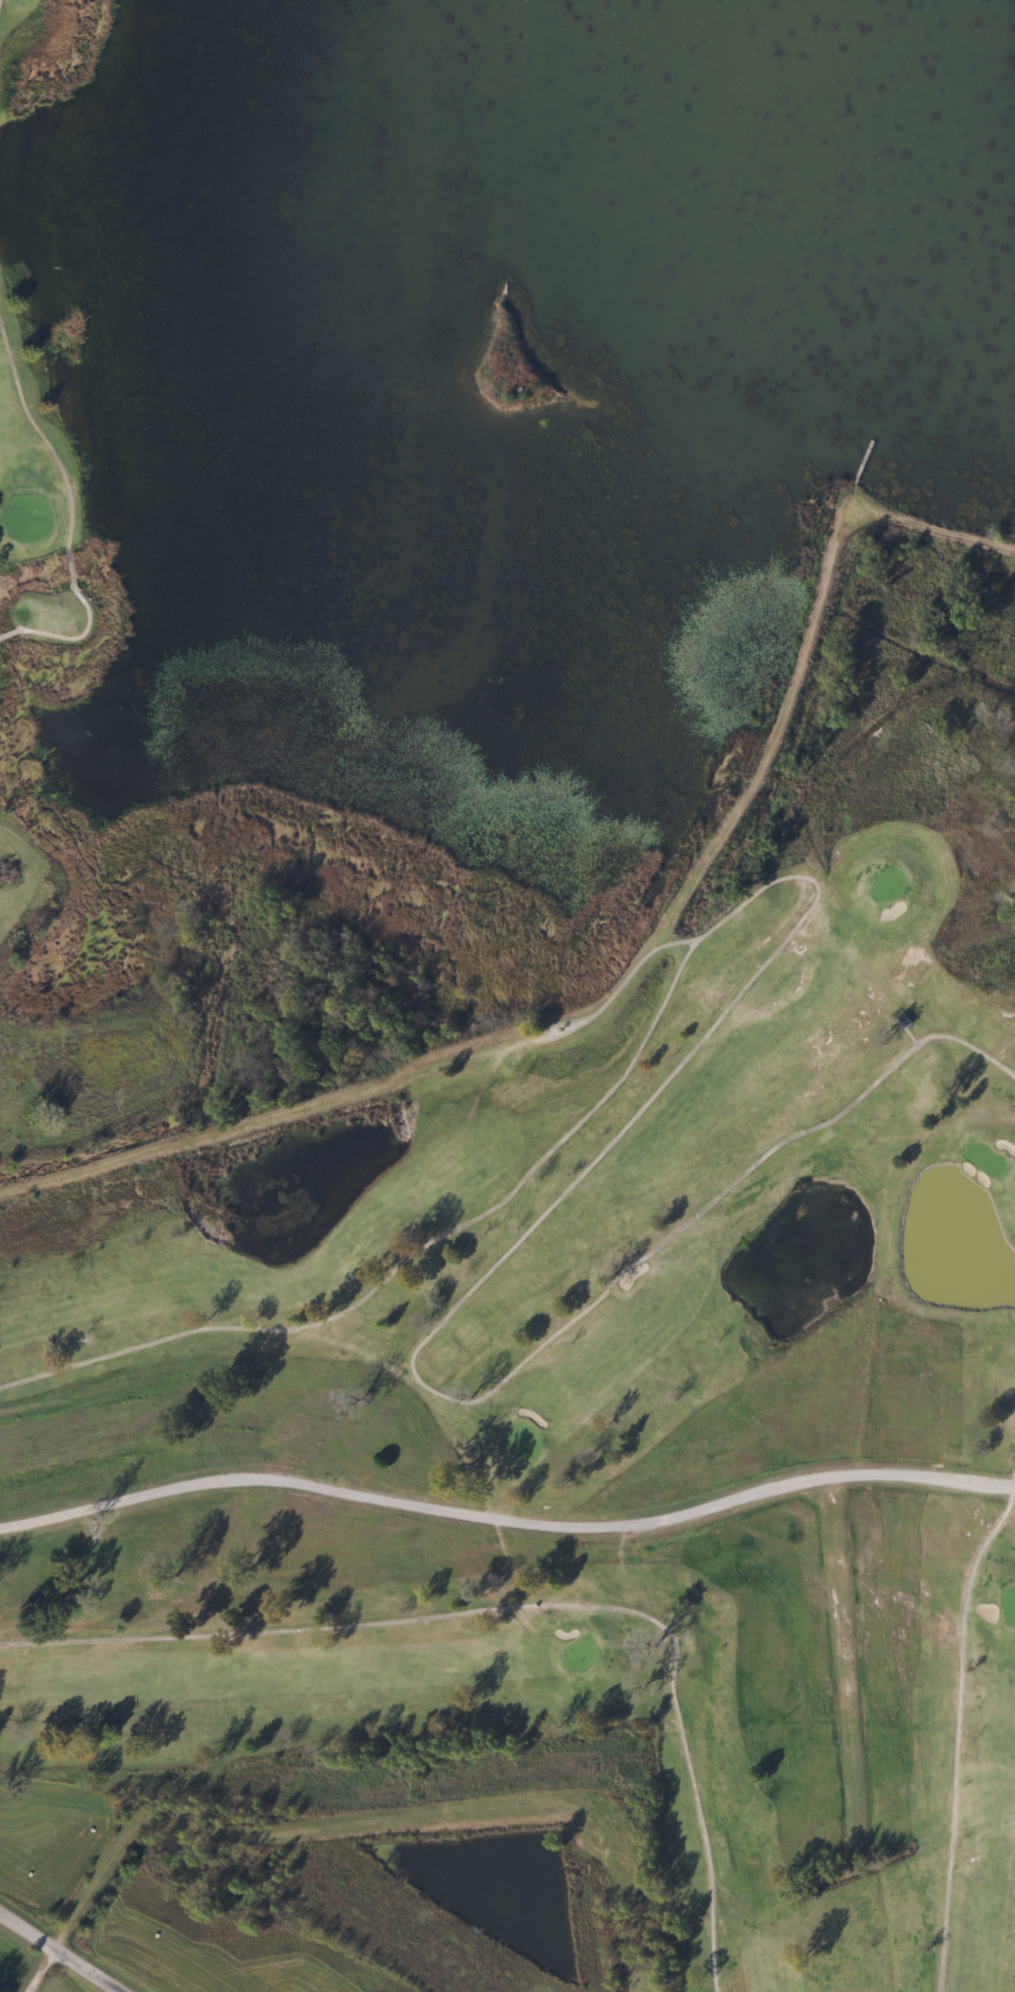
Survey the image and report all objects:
road: (934, 530)
building: (901, 1022)
road: (823, 1477)
road: (318, 1480)
road: (817, 1673)
road: (70, 1902)
road: (63, 1950)

